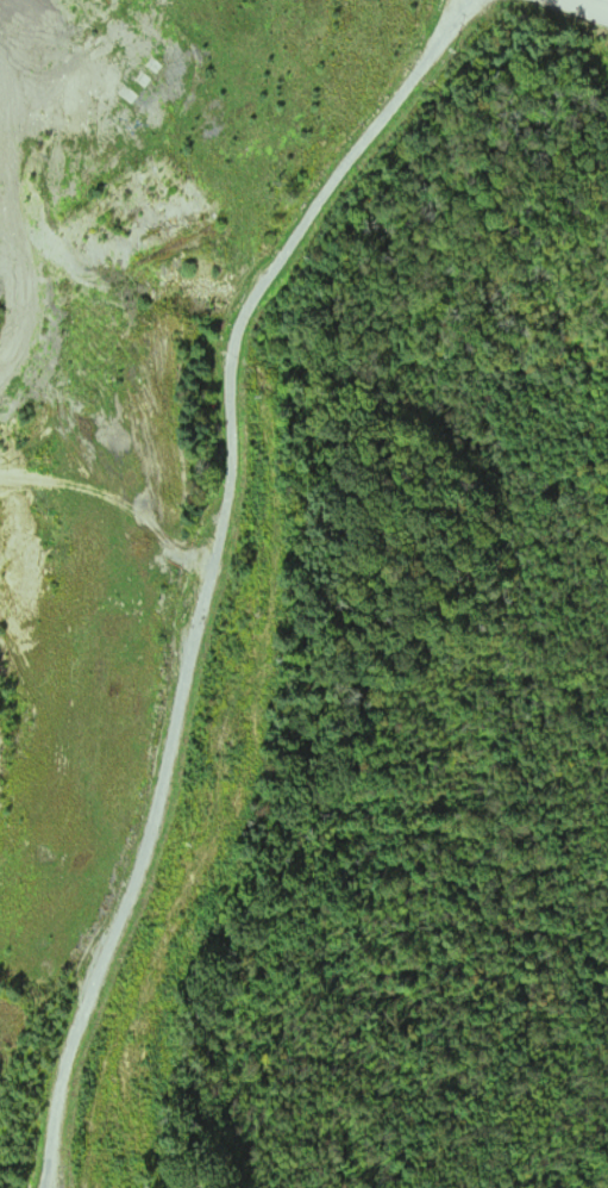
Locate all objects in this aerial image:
road: (528, 48)
road: (115, 166)

